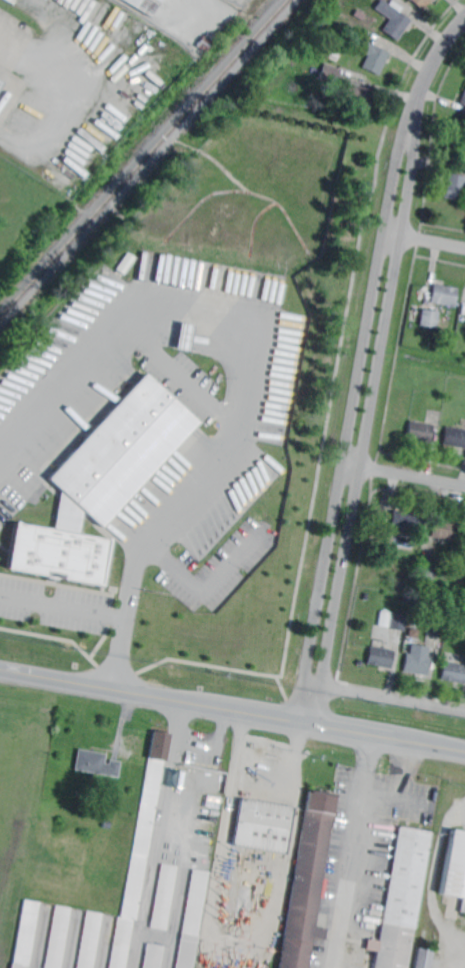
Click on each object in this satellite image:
building: (421, 3)
building: (145, 5)
building: (396, 19)
building: (353, 26)
building: (204, 44)
building: (375, 58)
building: (295, 62)
road: (32, 63)
building: (330, 74)
building: (361, 97)
building: (463, 101)
railway: (145, 160)
building: (456, 186)
road: (430, 241)
building: (123, 262)
building: (445, 295)
building: (431, 318)
building: (182, 335)
road: (372, 367)
road: (249, 371)
road: (182, 377)
parking lot: (234, 398)
building: (420, 431)
building: (455, 437)
road: (410, 475)
building: (100, 482)
building: (407, 521)
building: (445, 529)
building: (427, 568)
parking lot: (217, 571)
road: (197, 584)
parking lot: (54, 604)
road: (65, 607)
building: (393, 621)
building: (413, 623)
building: (437, 626)
building: (381, 656)
building: (417, 660)
building: (454, 672)
road: (391, 694)
road: (232, 708)
building: (97, 763)
building: (264, 826)
building: (140, 851)
road: (351, 852)
building: (455, 868)
building: (308, 882)
building: (166, 896)
building: (402, 900)
building: (193, 919)
building: (27, 934)
building: (59, 937)
road: (231, 939)
building: (91, 940)
building: (153, 956)
building: (423, 958)

